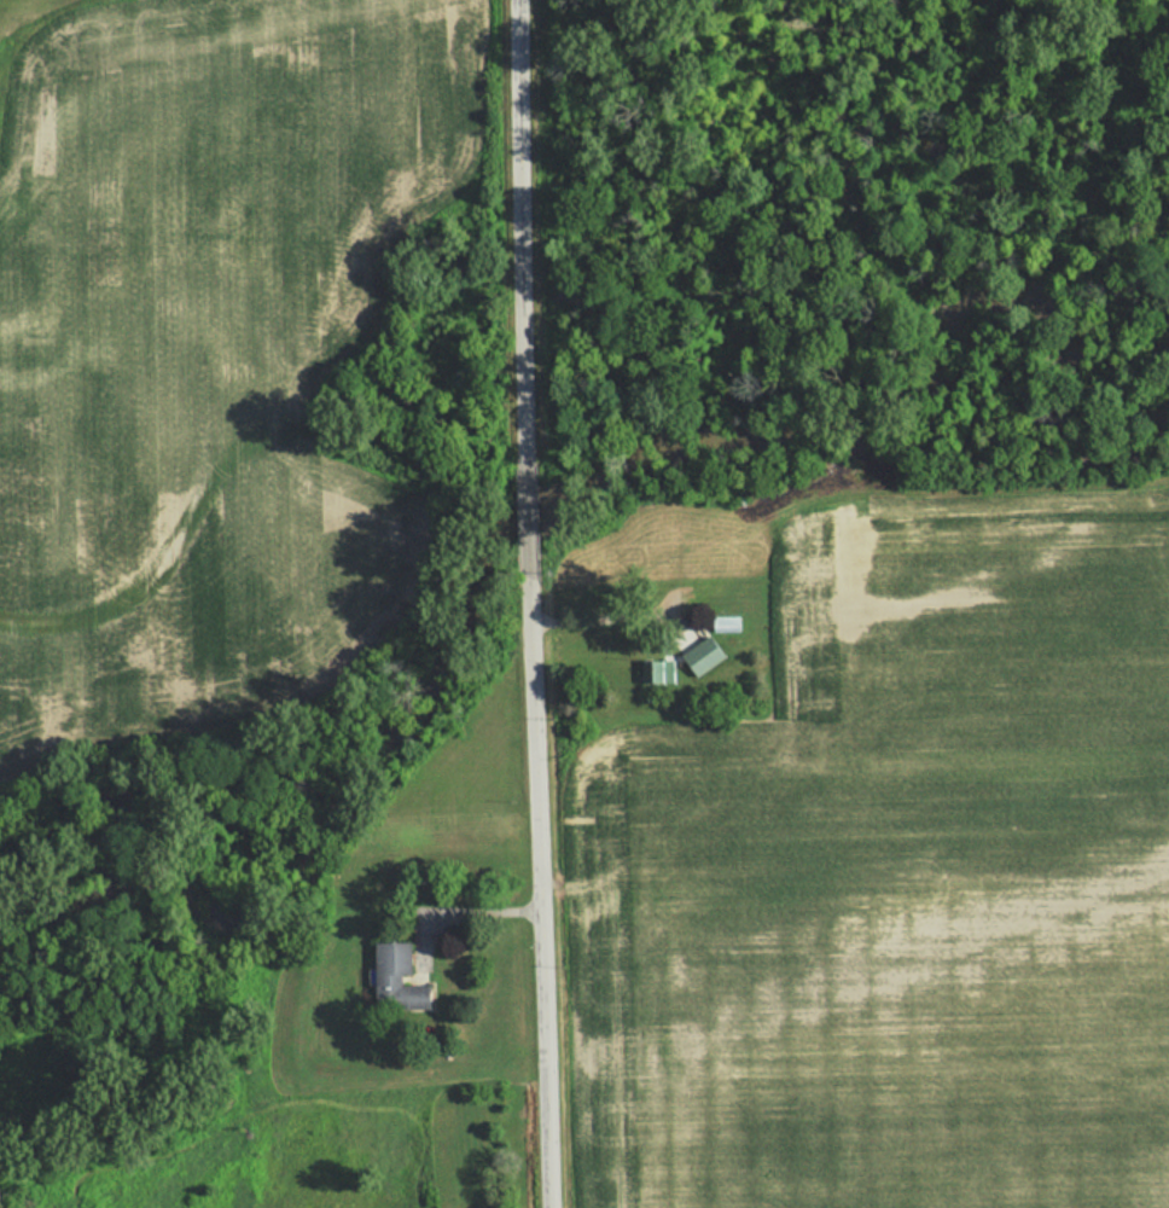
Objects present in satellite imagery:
road: (527, 604)
road: (594, 621)
building: (723, 625)
building: (656, 673)
crop: (896, 879)
road: (458, 912)
building: (394, 977)

